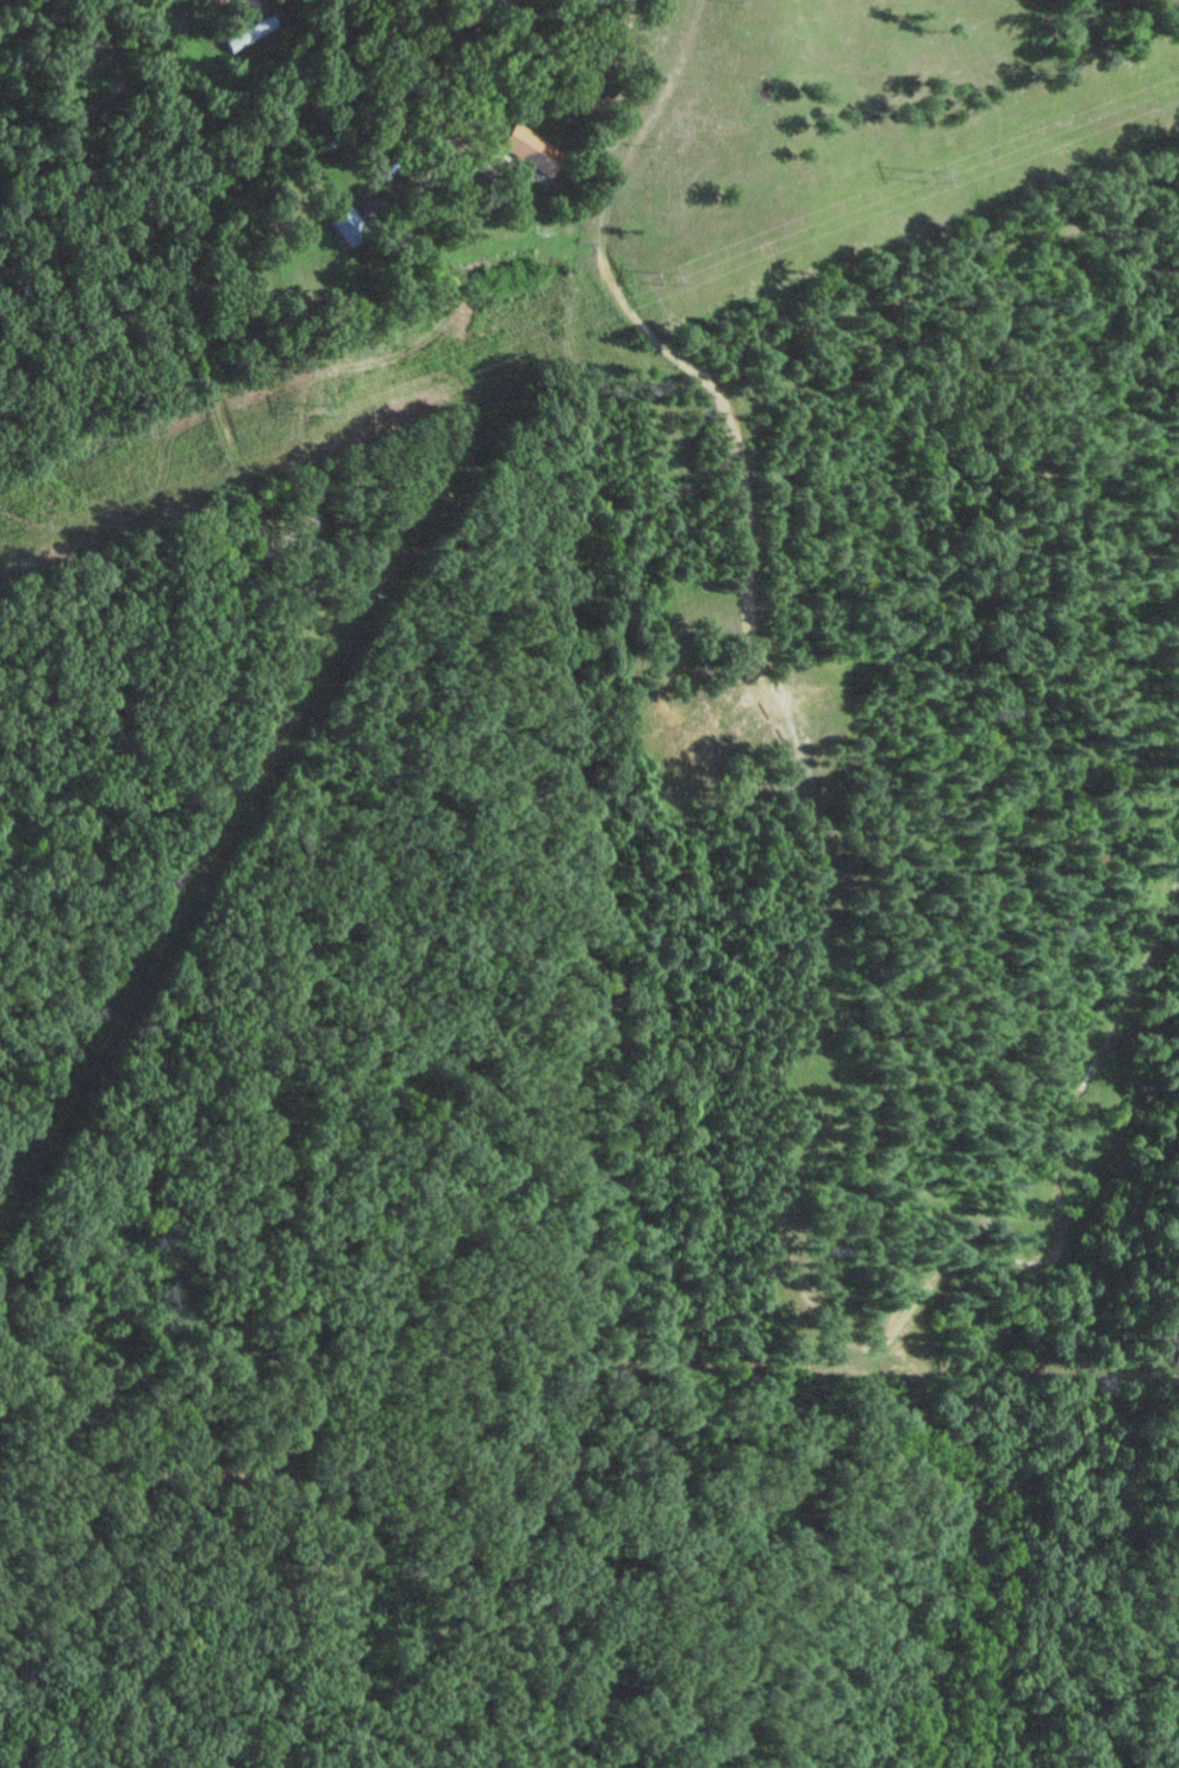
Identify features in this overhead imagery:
building: (250, 33)
building: (523, 149)
building: (350, 229)
road: (718, 385)

